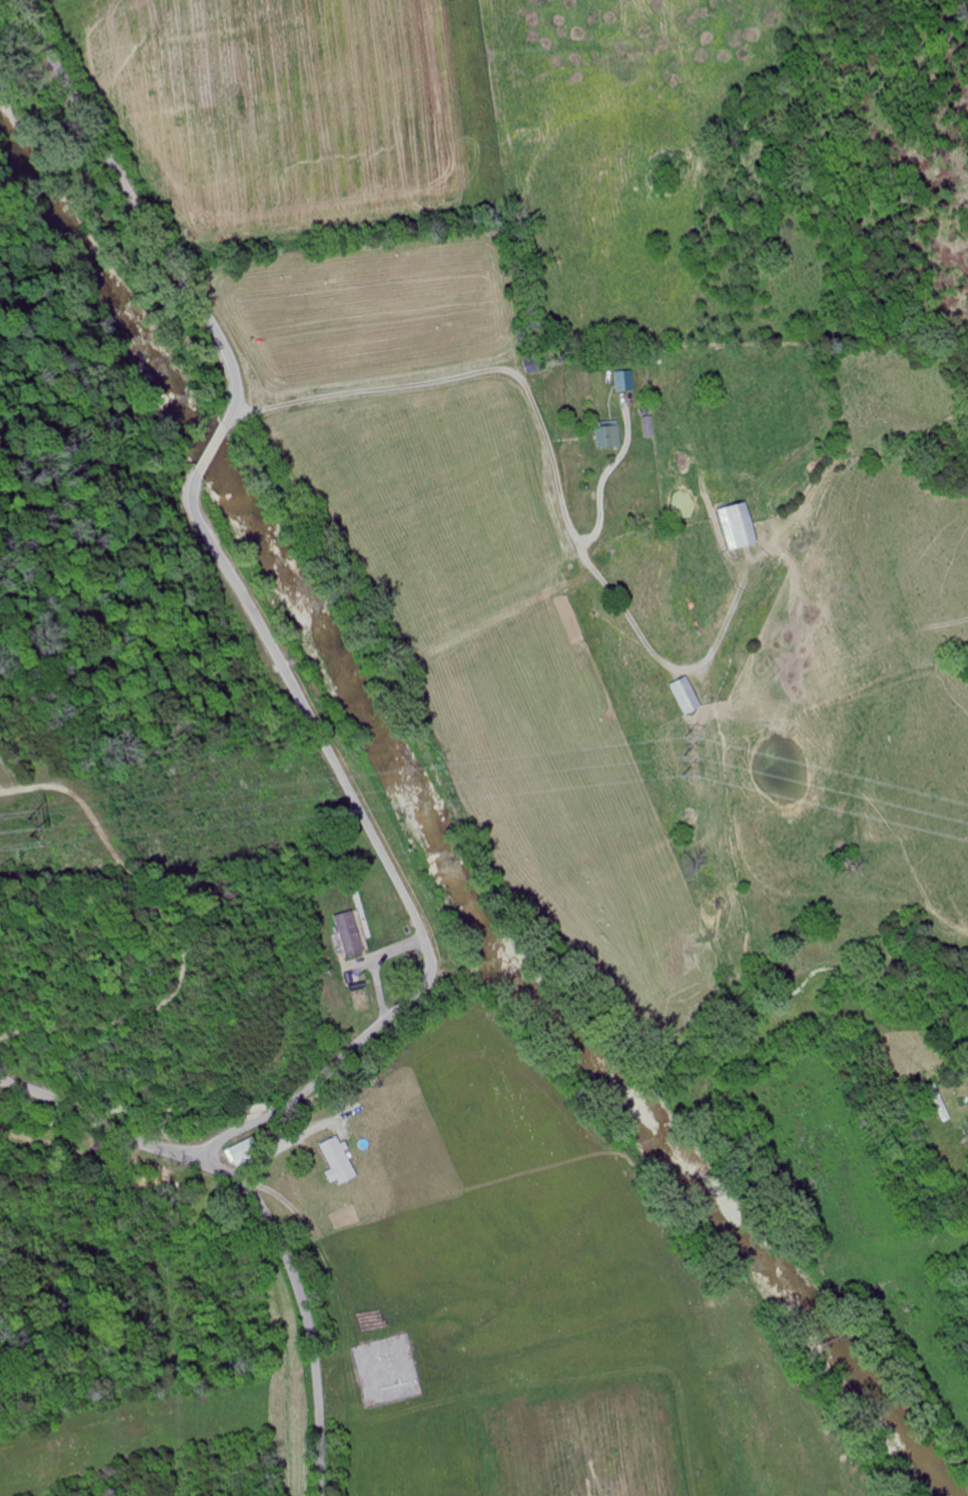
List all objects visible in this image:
building: (532, 364)
road: (456, 377)
building: (623, 380)
building: (607, 436)
road: (594, 498)
building: (733, 526)
road: (256, 619)
road: (661, 666)
building: (682, 695)
power tower: (687, 753)
power tower: (47, 821)
building: (352, 934)
road: (669, 1067)
building: (246, 1151)
building: (340, 1161)
road: (266, 1206)

